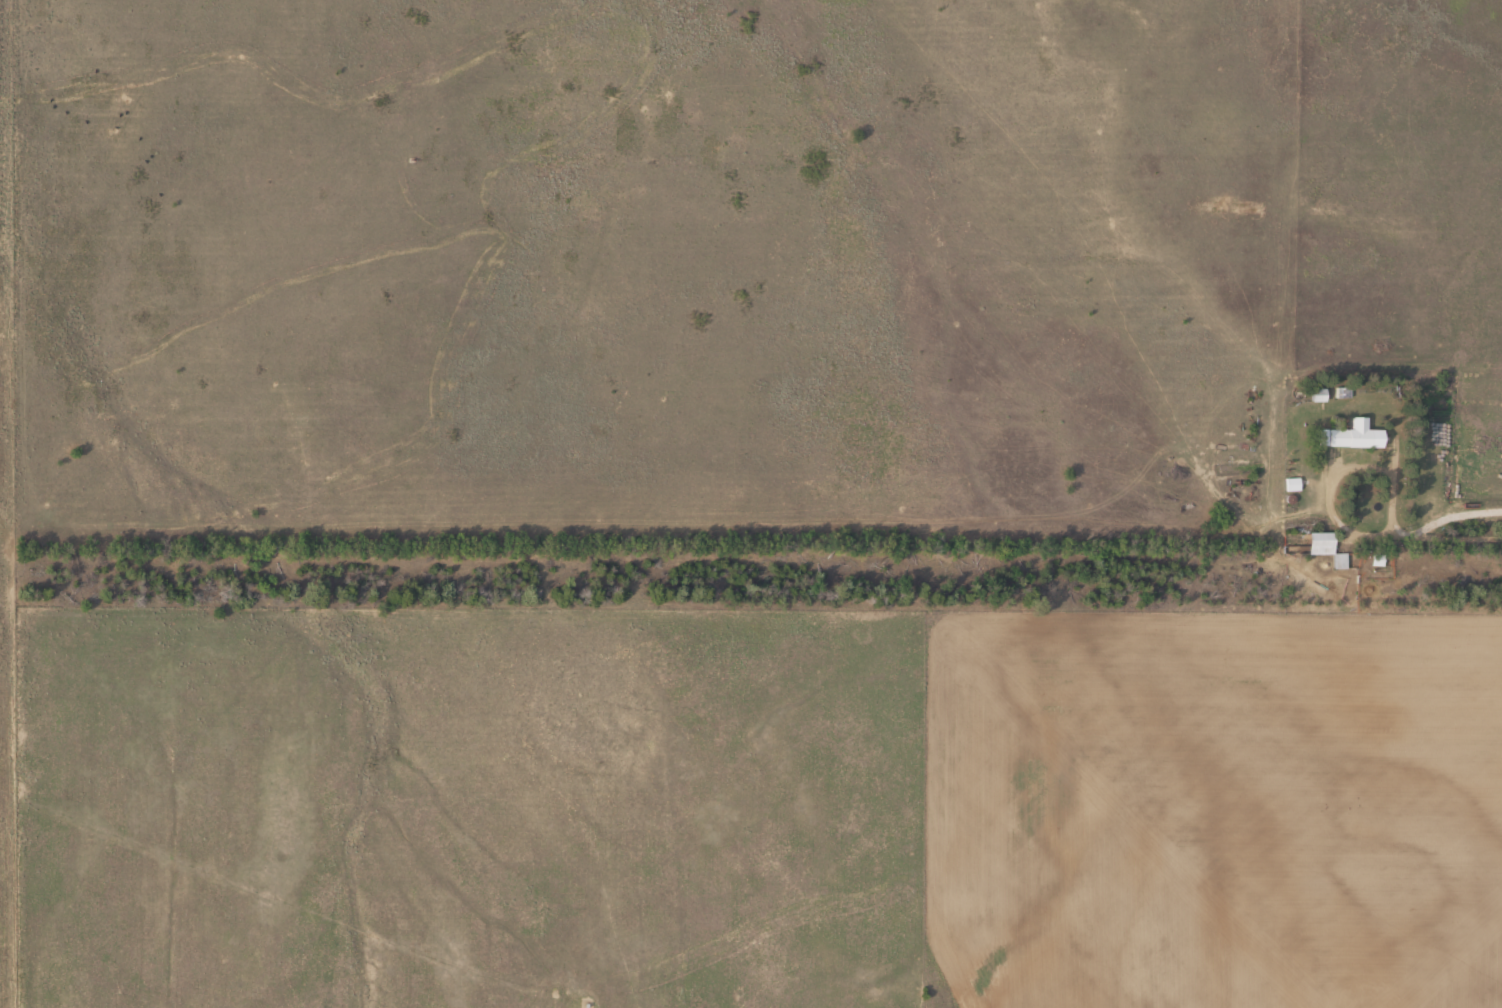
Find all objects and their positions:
building: (1313, 396)
building: (1348, 437)
road: (1432, 509)
building: (1302, 544)

